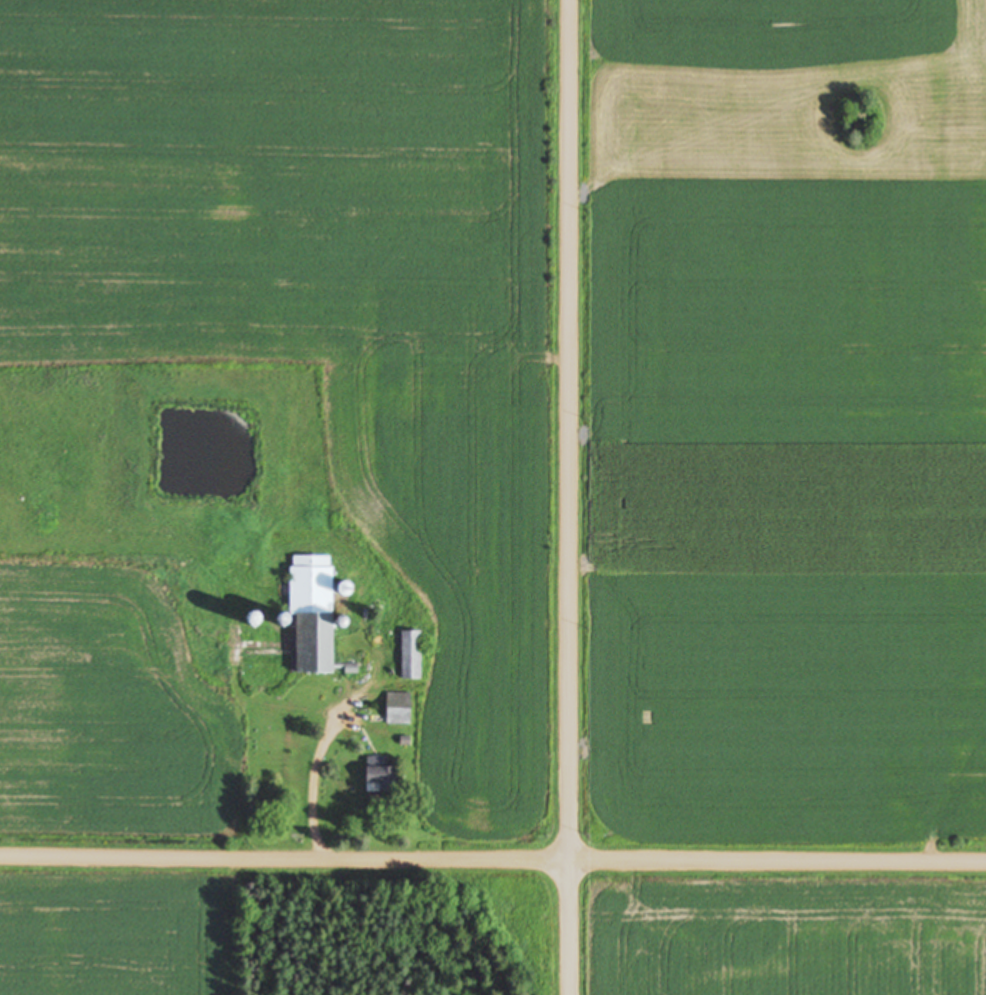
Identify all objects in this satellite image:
road: (567, 497)
building: (309, 611)
building: (396, 708)
building: (367, 775)
road: (492, 856)

